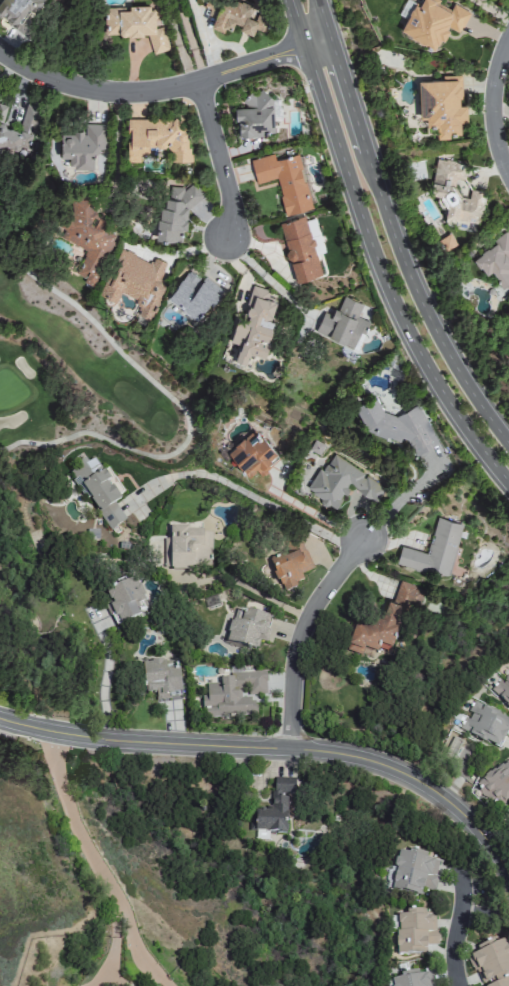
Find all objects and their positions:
building: (406, 8)
road: (492, 9)
building: (17, 13)
building: (240, 16)
building: (433, 21)
building: (136, 25)
road: (189, 40)
road: (165, 90)
building: (442, 104)
road: (495, 108)
building: (255, 115)
building: (17, 131)
building: (156, 137)
building: (82, 146)
road: (218, 160)
building: (284, 180)
building: (455, 193)
building: (176, 212)
road: (394, 231)
building: (88, 237)
building: (299, 249)
road: (177, 254)
road: (378, 256)
building: (495, 259)
road: (263, 275)
building: (136, 282)
building: (193, 295)
building: (254, 323)
building: (343, 323)
park: (93, 386)
road: (179, 405)
building: (397, 425)
building: (253, 456)
building: (341, 483)
building: (99, 491)
road: (249, 495)
road: (400, 499)
building: (188, 548)
building: (433, 551)
building: (290, 564)
building: (124, 600)
building: (383, 626)
building: (247, 628)
road: (302, 635)
building: (160, 680)
road: (103, 684)
building: (503, 690)
building: (233, 694)
building: (485, 725)
road: (275, 747)
building: (496, 784)
building: (275, 807)
road: (74, 820)
building: (413, 872)
road: (475, 912)
road: (460, 927)
road: (129, 932)
building: (414, 932)
road: (109, 937)
building: (491, 963)
building: (411, 980)

